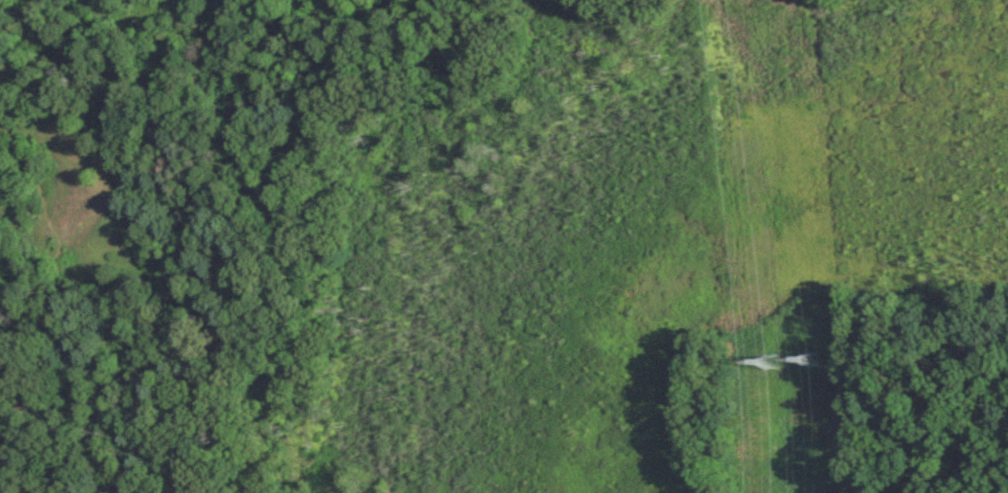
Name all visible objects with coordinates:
power tower: (817, 361)
power tower: (775, 363)

